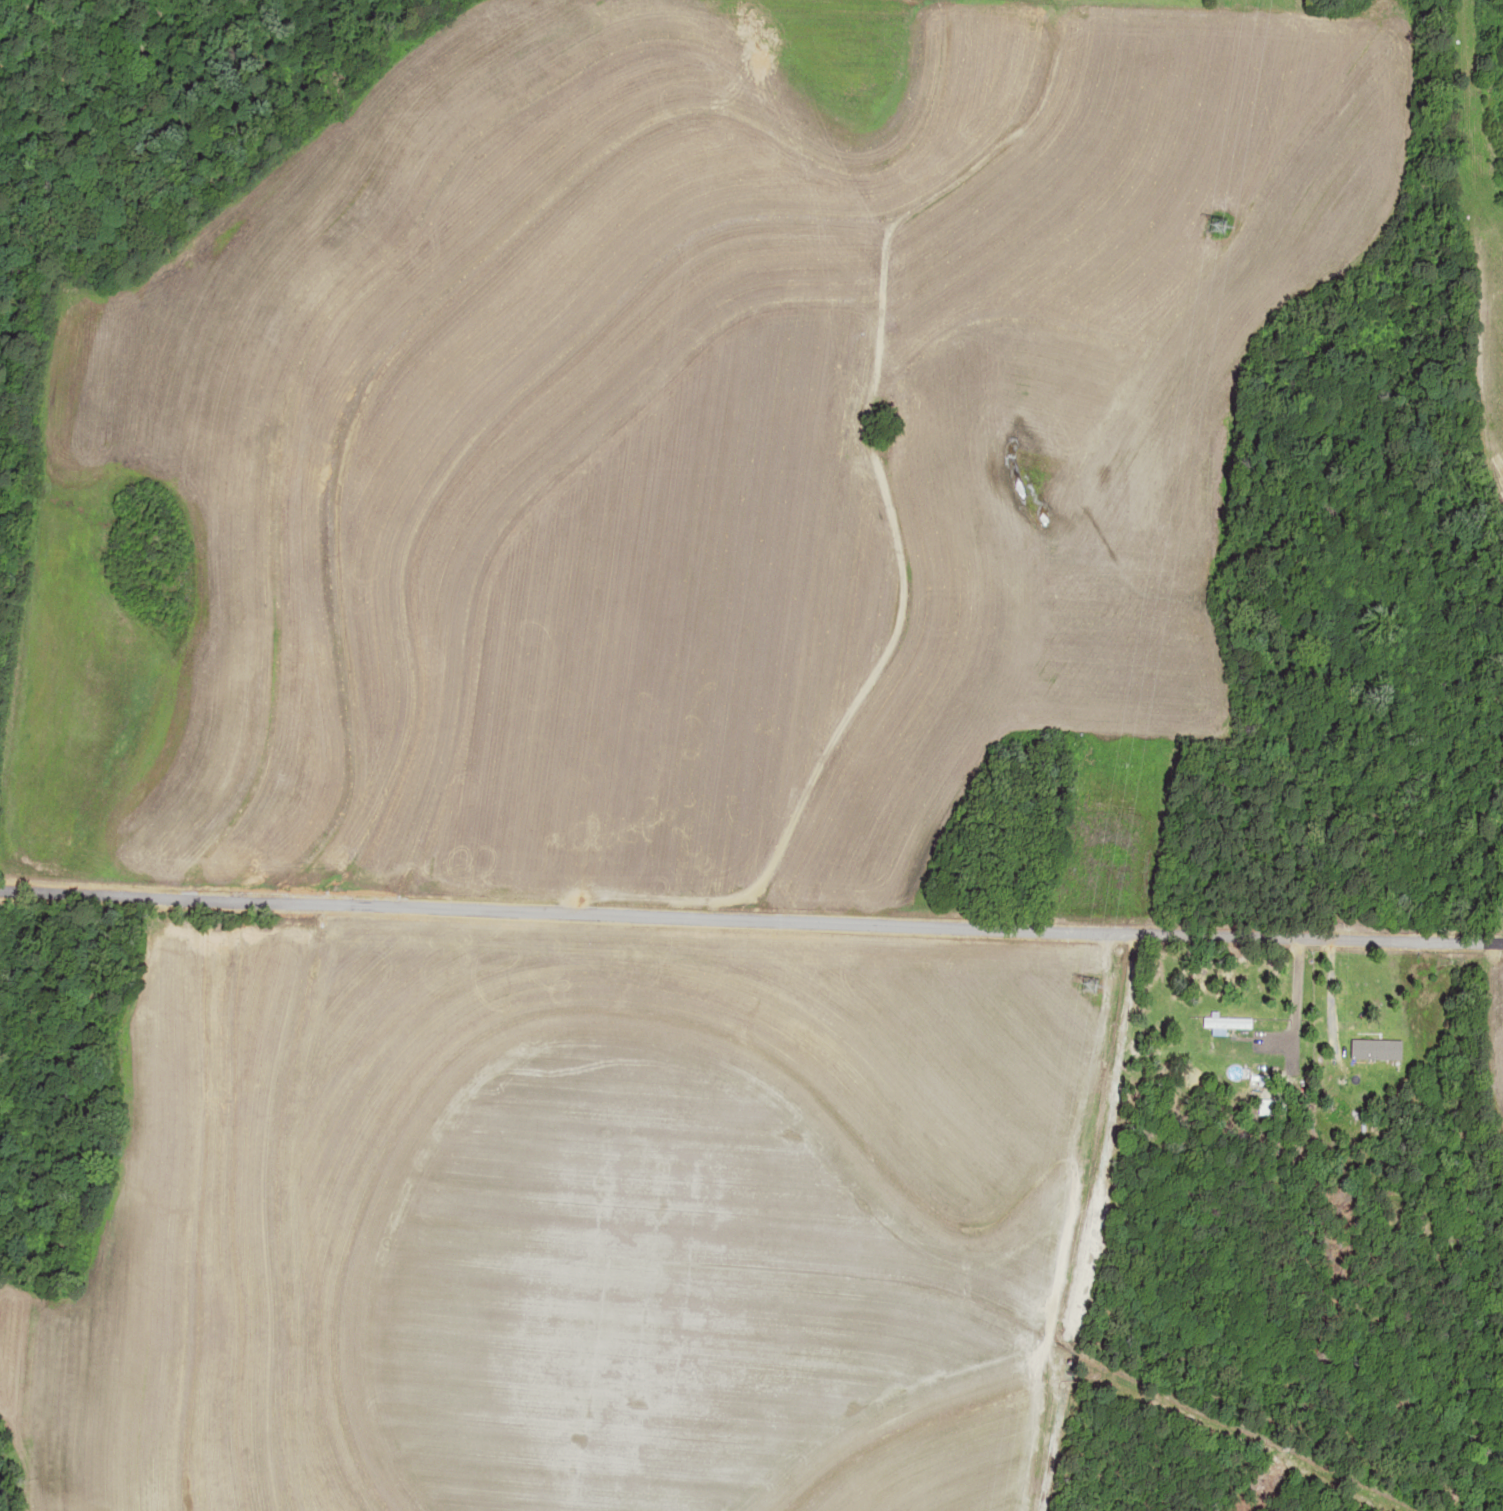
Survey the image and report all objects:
power tower: (1248, 56)
road: (751, 943)
power tower: (1093, 955)
building: (1331, 1027)

